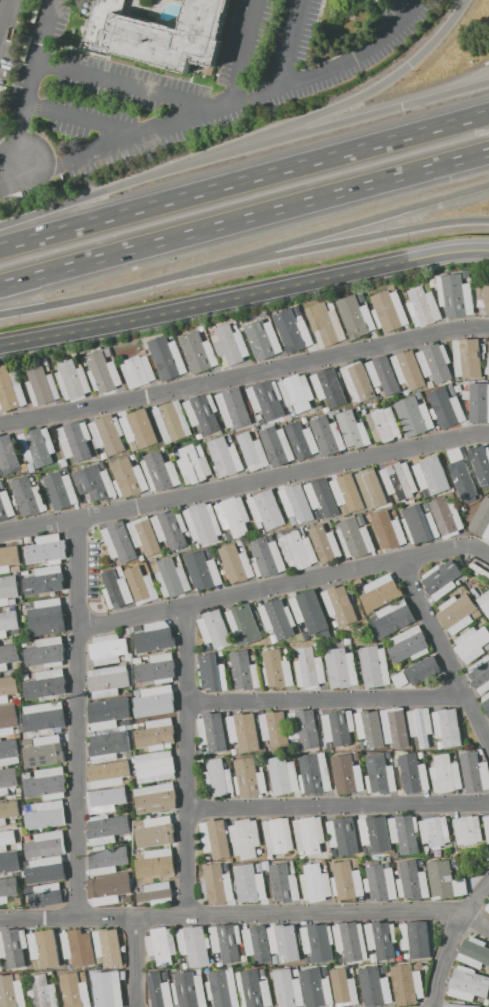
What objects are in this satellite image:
road: (5, 19)
building: (158, 35)
road: (289, 44)
road: (243, 51)
road: (32, 81)
road: (122, 84)
road: (382, 86)
road: (245, 97)
road: (79, 119)
road: (242, 148)
road: (12, 155)
road: (39, 164)
road: (12, 178)
road: (244, 179)
road: (377, 219)
road: (244, 220)
road: (377, 233)
building: (467, 273)
building: (392, 287)
road: (134, 288)
building: (483, 292)
road: (244, 294)
building: (454, 295)
building: (361, 298)
building: (328, 300)
building: (422, 306)
building: (289, 308)
building: (297, 308)
building: (388, 310)
building: (263, 314)
building: (355, 317)
building: (248, 319)
building: (232, 320)
building: (325, 324)
building: (202, 328)
building: (294, 334)
building: (171, 336)
building: (263, 339)
building: (229, 345)
building: (93, 350)
building: (198, 352)
building: (74, 353)
building: (167, 358)
building: (467, 358)
building: (45, 362)
building: (435, 363)
building: (487, 364)
building: (47, 369)
building: (137, 370)
building: (408, 371)
building: (102, 372)
road: (244, 374)
building: (383, 375)
building: (486, 378)
building: (72, 380)
building: (357, 381)
building: (429, 384)
building: (40, 387)
building: (329, 387)
building: (378, 390)
building: (452, 391)
building: (9, 392)
building: (296, 393)
building: (420, 396)
building: (265, 399)
building: (479, 402)
building: (369, 404)
building: (375, 404)
building: (233, 408)
building: (359, 408)
building: (326, 409)
building: (447, 409)
building: (202, 412)
building: (331, 414)
building: (414, 416)
building: (304, 420)
building: (172, 421)
building: (260, 422)
building: (283, 423)
building: (383, 424)
building: (139, 427)
building: (253, 428)
building: (352, 429)
building: (231, 431)
building: (107, 434)
building: (327, 435)
building: (199, 436)
building: (75, 440)
building: (301, 440)
building: (230, 441)
building: (37, 445)
building: (276, 446)
building: (134, 449)
building: (164, 449)
building: (252, 450)
building: (171, 453)
building: (103, 454)
building: (8, 455)
building: (133, 457)
building: (224, 457)
building: (480, 462)
building: (62, 463)
building: (70, 463)
building: (193, 465)
building: (102, 466)
building: (31, 468)
building: (65, 470)
building: (159, 472)
building: (430, 474)
building: (1, 475)
building: (462, 475)
building: (128, 477)
building: (399, 480)
road: (244, 482)
building: (95, 483)
building: (1, 484)
building: (371, 488)
building: (60, 489)
building: (347, 492)
building: (426, 494)
building: (319, 496)
building: (28, 497)
building: (294, 501)
building: (5, 505)
building: (426, 507)
building: (265, 510)
building: (344, 510)
building: (395, 512)
building: (233, 516)
building: (445, 516)
building: (319, 517)
building: (362, 520)
building: (482, 520)
building: (201, 522)
building: (293, 524)
building: (418, 524)
building: (259, 525)
building: (170, 528)
building: (388, 530)
building: (303, 531)
building: (144, 534)
building: (228, 536)
building: (270, 537)
building: (354, 538)
building: (28, 539)
building: (118, 542)
building: (325, 543)
building: (488, 544)
building: (197, 545)
building: (242, 547)
building: (209, 549)
building: (46, 550)
building: (297, 551)
building: (166, 553)
building: (265, 557)
building: (8, 558)
building: (142, 558)
building: (178, 558)
building: (235, 563)
building: (15, 568)
building: (203, 570)
building: (120, 572)
building: (25, 573)
building: (172, 578)
building: (441, 579)
building: (44, 581)
building: (456, 583)
building: (140, 585)
road: (285, 585)
building: (9, 589)
building: (115, 590)
building: (473, 591)
building: (380, 593)
building: (484, 602)
building: (339, 604)
building: (29, 605)
building: (309, 611)
building: (456, 613)
building: (476, 614)
building: (46, 618)
building: (393, 618)
building: (278, 619)
building: (7, 622)
building: (244, 623)
building: (335, 624)
building: (214, 629)
building: (128, 631)
building: (14, 632)
building: (155, 636)
building: (306, 636)
building: (273, 638)
building: (347, 640)
building: (342, 641)
building: (238, 642)
building: (24, 643)
building: (335, 643)
building: (408, 644)
building: (471, 644)
building: (328, 645)
building: (317, 646)
building: (351, 646)
building: (207, 647)
building: (487, 647)
building: (107, 649)
building: (286, 651)
building: (45, 653)
building: (220, 653)
building: (9, 655)
road: (442, 655)
building: (253, 656)
building: (128, 657)
building: (146, 658)
building: (137, 660)
building: (374, 666)
building: (341, 667)
building: (309, 668)
building: (156, 669)
building: (276, 669)
building: (423, 670)
building: (245, 671)
building: (212, 673)
building: (480, 674)
building: (25, 677)
building: (400, 679)
building: (108, 681)
building: (45, 684)
building: (7, 688)
building: (16, 699)
road: (325, 699)
building: (156, 701)
building: (485, 702)
building: (108, 712)
building: (45, 715)
road: (80, 718)
building: (8, 719)
building: (420, 725)
building: (339, 727)
building: (447, 727)
building: (395, 728)
building: (304, 729)
building: (275, 730)
building: (368, 730)
building: (17, 731)
building: (212, 731)
building: (243, 731)
building: (155, 735)
building: (26, 742)
building: (107, 745)
building: (439, 745)
building: (198, 746)
building: (329, 746)
building: (234, 751)
building: (8, 752)
building: (44, 752)
building: (389, 754)
building: (128, 755)
building: (356, 755)
building: (420, 755)
building: (482, 758)
road: (188, 763)
building: (154, 766)
building: (413, 772)
building: (473, 773)
building: (108, 774)
building: (315, 774)
building: (346, 774)
building: (445, 774)
building: (26, 775)
building: (380, 775)
building: (282, 776)
building: (248, 777)
building: (218, 778)
building: (7, 780)
building: (129, 781)
building: (46, 784)
building: (18, 789)
building: (155, 798)
building: (105, 799)
road: (338, 804)
building: (33, 805)
building: (124, 808)
building: (119, 809)
building: (8, 811)
building: (46, 816)
building: (137, 823)
building: (487, 826)
building: (106, 829)
building: (435, 830)
building: (468, 830)
building: (156, 832)
building: (373, 832)
building: (404, 832)
building: (309, 834)
building: (277, 835)
building: (343, 836)
building: (127, 838)
building: (215, 838)
building: (7, 839)
building: (246, 839)
building: (45, 844)
building: (19, 846)
building: (388, 847)
building: (426, 848)
building: (427, 853)
building: (437, 853)
building: (302, 857)
building: (207, 858)
building: (375, 858)
building: (109, 859)
building: (382, 859)
building: (230, 860)
building: (323, 860)
building: (9, 861)
building: (156, 863)
building: (357, 863)
building: (388, 863)
building: (455, 863)
building: (259, 864)
building: (422, 864)
building: (225, 866)
building: (324, 866)
building: (291, 868)
building: (45, 869)
building: (15, 874)
building: (346, 880)
building: (443, 880)
building: (412, 881)
building: (283, 883)
building: (315, 883)
building: (381, 883)
building: (218, 884)
building: (251, 884)
building: (8, 888)
building: (105, 889)
building: (156, 893)
building: (45, 896)
building: (486, 907)
road: (232, 918)
road: (477, 921)
building: (286, 938)
building: (381, 938)
building: (415, 939)
building: (350, 941)
road: (451, 941)
building: (226, 942)
building: (317, 942)
building: (194, 944)
building: (257, 944)
building: (107, 945)
building: (161, 945)
building: (13, 947)
building: (78, 947)
building: (45, 948)
building: (474, 952)
building: (405, 955)
building: (243, 958)
building: (374, 958)
building: (341, 959)
building: (99, 960)
building: (309, 960)
road: (137, 963)
building: (278, 963)
building: (218, 965)
building: (35, 966)
building: (184, 966)
building: (418, 966)
building: (68, 967)
building: (325, 967)
building: (262, 969)
building: (384, 969)
building: (350, 970)
building: (199, 971)
building: (487, 971)
building: (163, 972)
building: (296, 972)
building: (49, 973)
building: (18, 975)
building: (124, 978)
building: (406, 984)
building: (467, 984)
building: (374, 987)
building: (317, 988)
building: (343, 988)
building: (222, 989)
building: (252, 989)
building: (288, 989)
building: (106, 990)
building: (189, 990)
building: (11, 992)
building: (42, 993)
building: (75, 993)
building: (160, 993)
building: (486, 1002)
building: (463, 1005)

